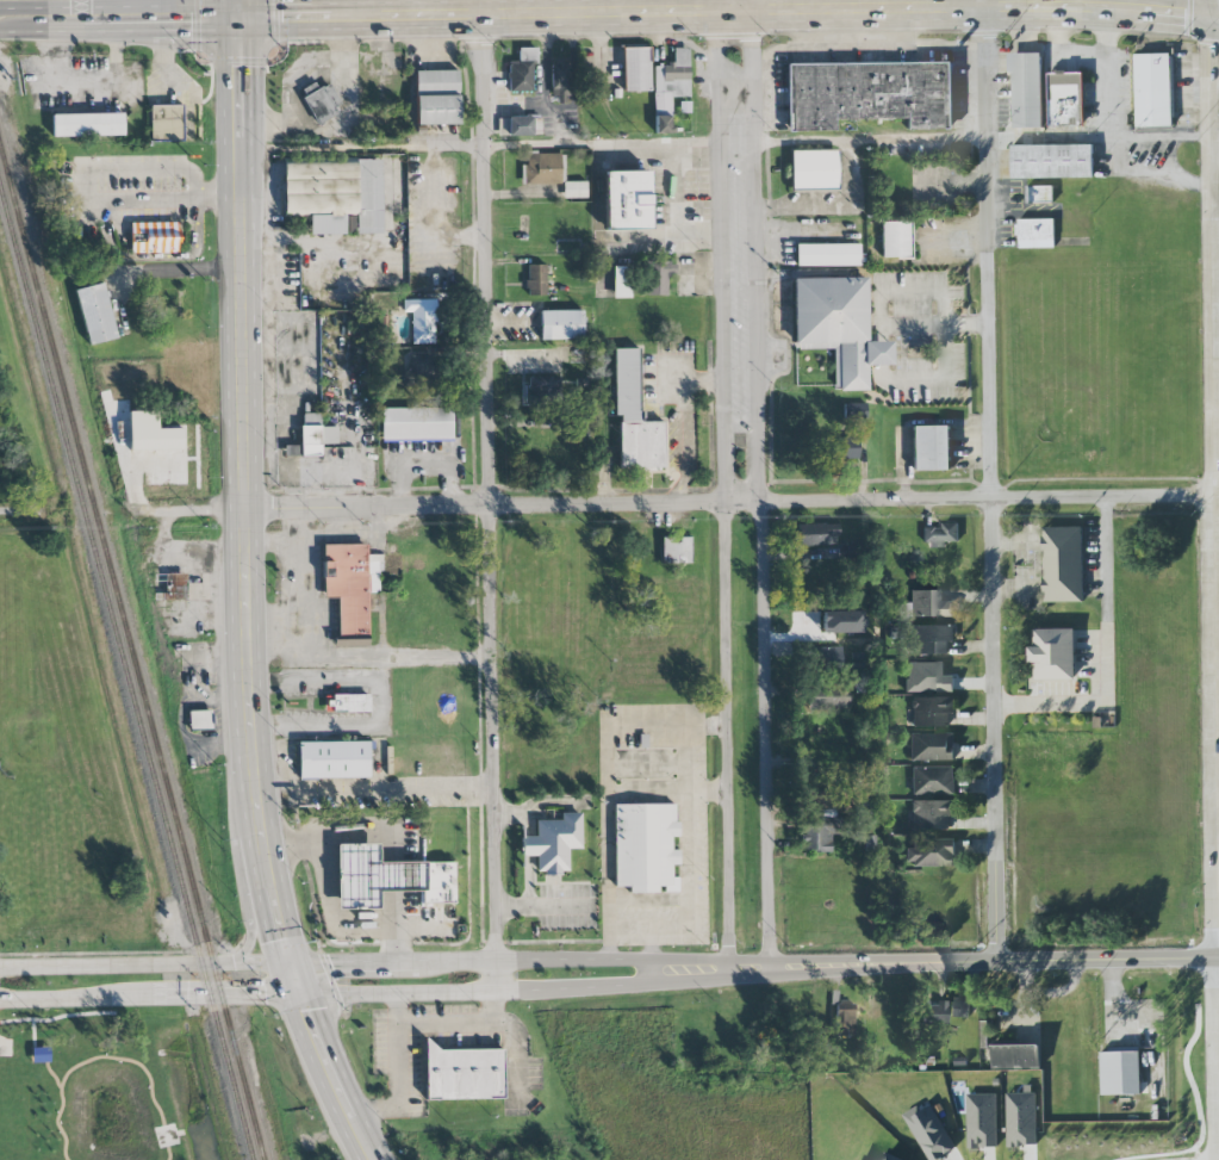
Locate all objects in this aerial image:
road: (983, 5)
road: (751, 6)
road: (719, 7)
road: (478, 8)
road: (82, 10)
road: (139, 10)
road: (231, 10)
road: (238, 10)
road: (346, 10)
road: (1200, 10)
road: (798, 12)
road: (362, 18)
road: (291, 19)
road: (25, 20)
road: (95, 20)
road: (187, 20)
traffic signals: (235, 20)
road: (1063, 52)
road: (573, 66)
building: (634, 69)
building: (522, 70)
road: (1111, 73)
building: (560, 80)
road: (83, 83)
road: (236, 85)
road: (545, 85)
building: (670, 87)
building: (1026, 89)
building: (1151, 91)
building: (615, 94)
building: (870, 94)
building: (436, 97)
building: (1064, 100)
building: (319, 101)
building: (164, 124)
building: (536, 124)
building: (86, 125)
building: (520, 125)
road: (1157, 136)
road: (1049, 137)
road: (870, 141)
road: (602, 143)
road: (360, 147)
road: (1111, 157)
building: (1050, 162)
building: (541, 168)
building: (809, 170)
road: (237, 172)
road: (1165, 172)
building: (572, 191)
road: (86, 193)
building: (334, 193)
building: (1039, 196)
building: (623, 201)
road: (1212, 206)
road: (437, 211)
road: (676, 211)
building: (1035, 232)
building: (153, 237)
building: (891, 241)
building: (827, 254)
road: (151, 256)
road: (180, 267)
building: (658, 277)
building: (535, 279)
building: (617, 284)
building: (94, 314)
building: (421, 320)
road: (933, 323)
building: (560, 325)
building: (838, 327)
road: (1212, 366)
building: (421, 372)
road: (696, 384)
building: (542, 392)
building: (853, 410)
building: (634, 416)
road: (1217, 417)
building: (416, 424)
building: (579, 433)
building: (315, 435)
building: (847, 447)
building: (931, 448)
road: (683, 454)
road: (991, 485)
road: (760, 489)
road: (723, 490)
road: (486, 503)
road: (729, 504)
road: (197, 510)
road: (6, 515)
building: (816, 534)
building: (940, 534)
road: (276, 542)
road: (1218, 545)
building: (674, 550)
road: (188, 564)
building: (1062, 565)
road: (1026, 569)
road: (309, 575)
building: (175, 587)
building: (350, 588)
building: (929, 604)
building: (931, 639)
railway: (132, 651)
road: (1105, 651)
road: (362, 655)
building: (1055, 655)
building: (825, 657)
road: (381, 666)
railway: (125, 675)
building: (927, 677)
road: (248, 688)
building: (827, 696)
road: (380, 700)
road: (218, 702)
building: (350, 702)
building: (932, 711)
building: (199, 721)
road: (199, 742)
building: (932, 746)
road: (684, 757)
building: (332, 761)
building: (932, 781)
road: (375, 793)
road: (608, 804)
road: (510, 811)
building: (932, 814)
road: (528, 824)
building: (821, 835)
road: (332, 839)
building: (553, 843)
road: (528, 846)
building: (645, 846)
building: (931, 852)
building: (388, 877)
road: (394, 879)
road: (529, 882)
road: (686, 901)
road: (512, 907)
road: (331, 911)
road: (396, 928)
road: (254, 931)
road: (492, 960)
road: (953, 962)
road: (148, 964)
road: (498, 991)
road: (153, 998)
building: (959, 1007)
road: (497, 1009)
road: (397, 1010)
building: (932, 1010)
building: (844, 1023)
road: (427, 1025)
building: (1016, 1056)
building: (464, 1073)
building: (1118, 1074)
building: (1022, 1119)
building: (983, 1121)
building: (931, 1131)
building: (890, 1156)

